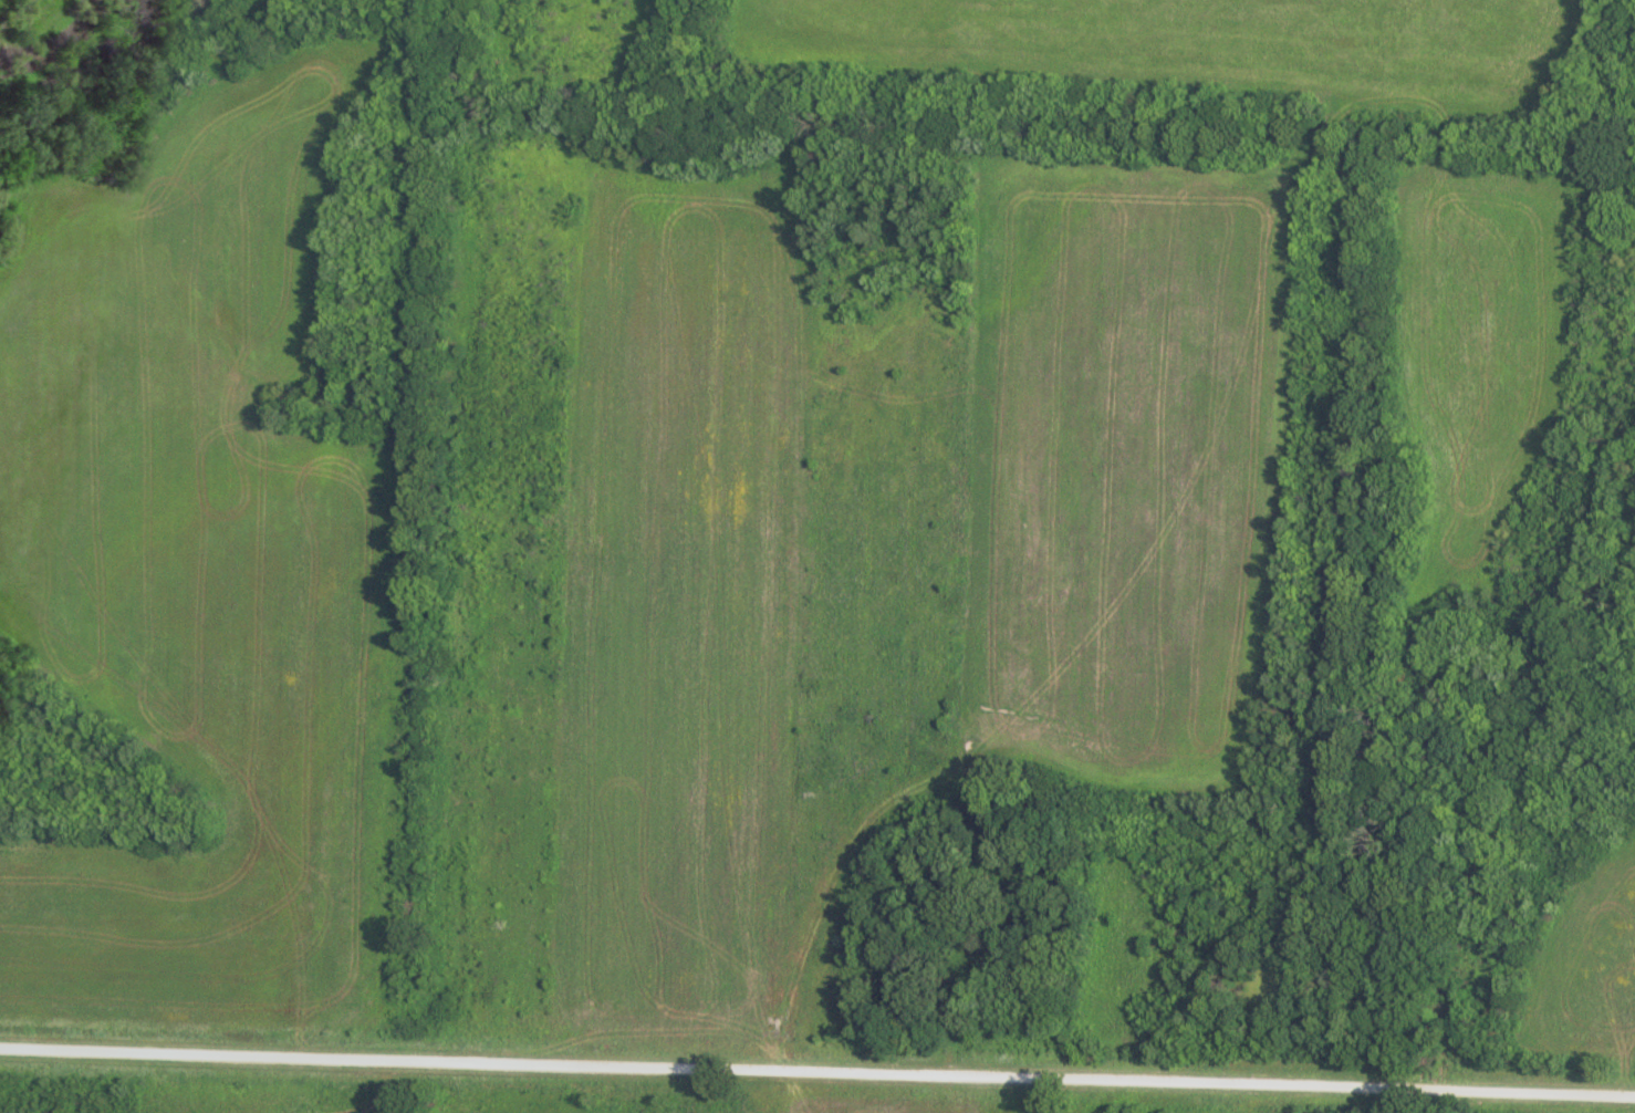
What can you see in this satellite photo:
road: (817, 1073)

